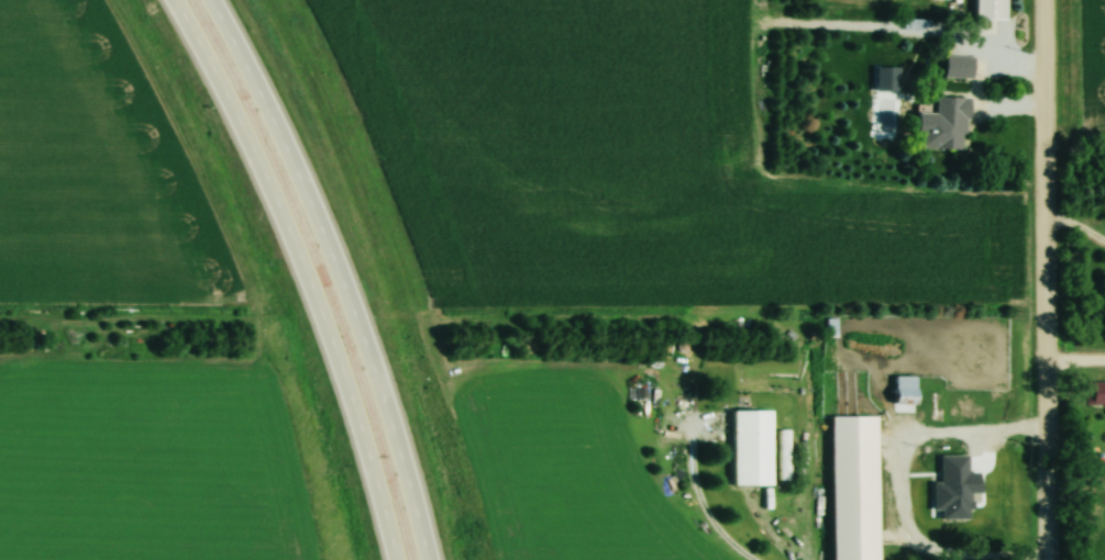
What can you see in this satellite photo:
building: (987, 9)
crop: (1095, 61)
building: (957, 65)
building: (948, 122)
crop: (632, 163)
road: (310, 271)
road: (343, 272)
road: (1039, 280)
road: (1072, 363)
building: (345, 388)
building: (902, 388)
building: (1094, 394)
building: (748, 446)
building: (782, 455)
crop: (145, 459)
crop: (563, 462)
building: (852, 486)
building: (959, 486)
road: (696, 497)

